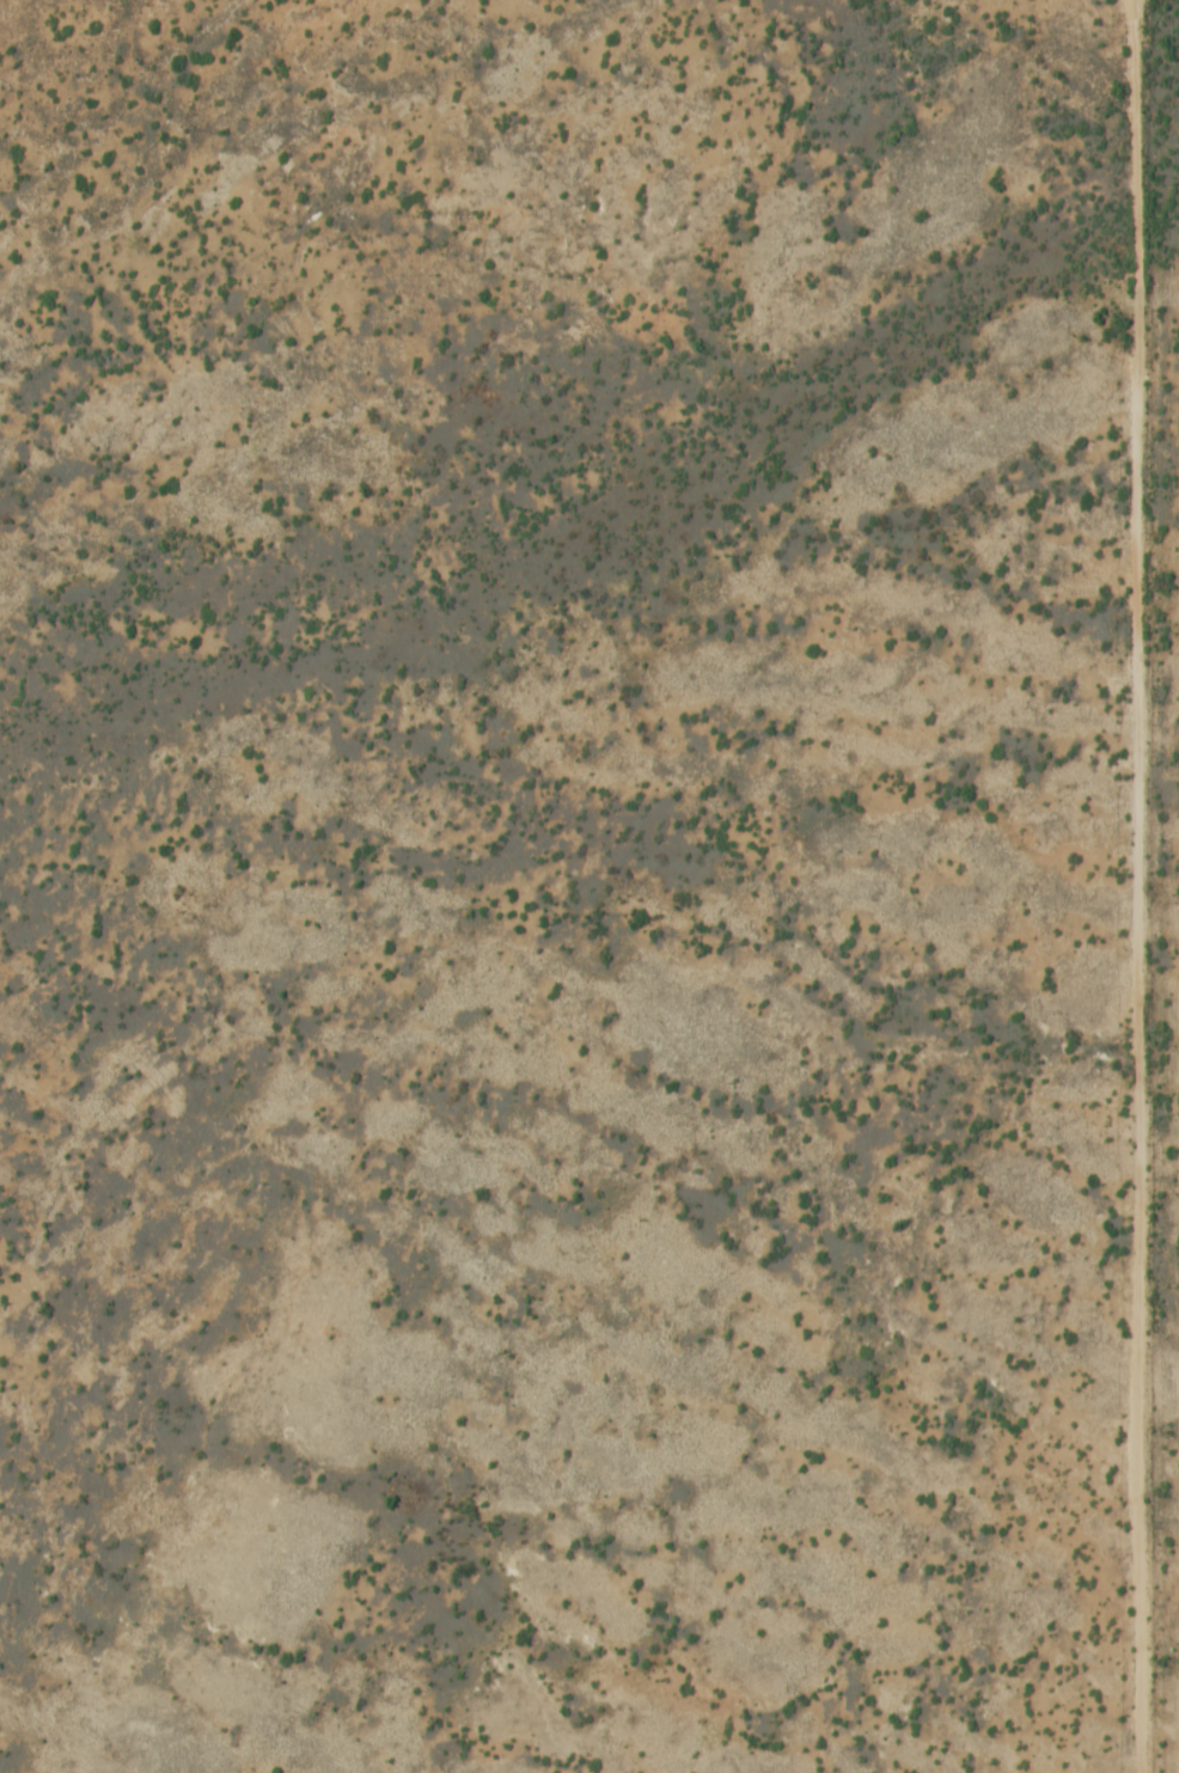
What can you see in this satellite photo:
power tower: (1168, 145)
power tower: (1168, 524)
road: (1132, 886)
power tower: (1171, 903)
power tower: (1171, 1283)
power tower: (1171, 1663)

